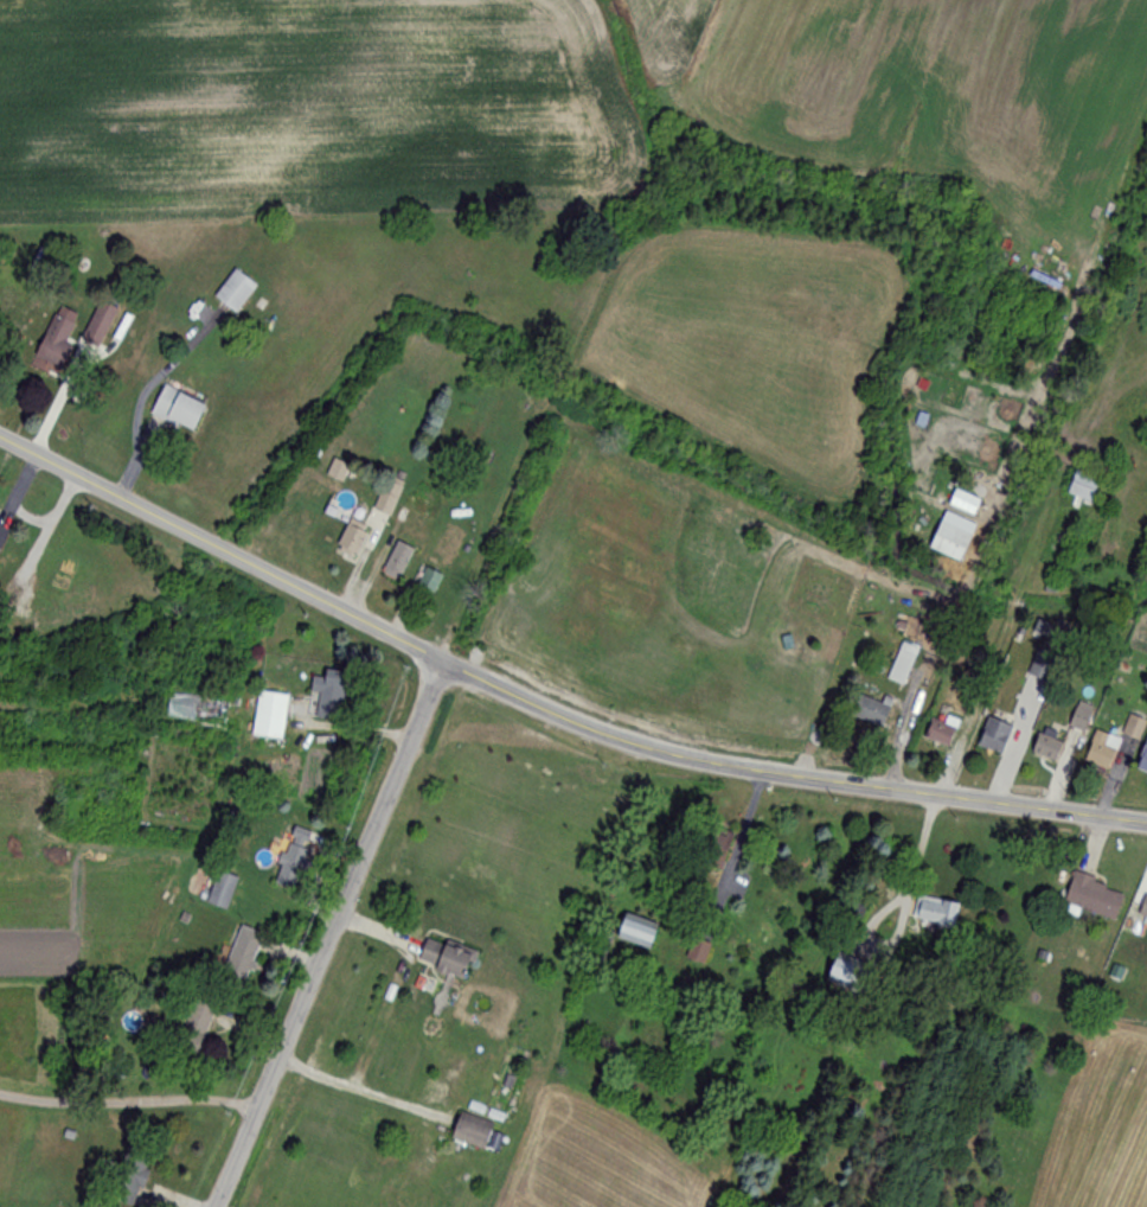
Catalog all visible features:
building: (233, 290)
building: (98, 324)
building: (55, 337)
building: (177, 409)
building: (337, 470)
building: (1083, 486)
building: (387, 496)
building: (2, 532)
building: (350, 542)
building: (948, 542)
building: (396, 561)
building: (429, 581)
building: (902, 664)
building: (1043, 666)
building: (327, 698)
building: (196, 709)
building: (871, 710)
road: (546, 713)
building: (269, 715)
building: (1078, 720)
building: (940, 730)
building: (994, 736)
building: (1113, 743)
building: (1046, 747)
building: (1142, 760)
road: (732, 849)
building: (290, 857)
building: (222, 889)
building: (1092, 896)
building: (1143, 906)
building: (934, 911)
road: (899, 919)
building: (636, 931)
road: (332, 937)
building: (698, 951)
building: (241, 952)
building: (443, 956)
building: (844, 971)
building: (194, 1022)
road: (355, 1091)
road: (129, 1104)
building: (468, 1132)
building: (129, 1179)

